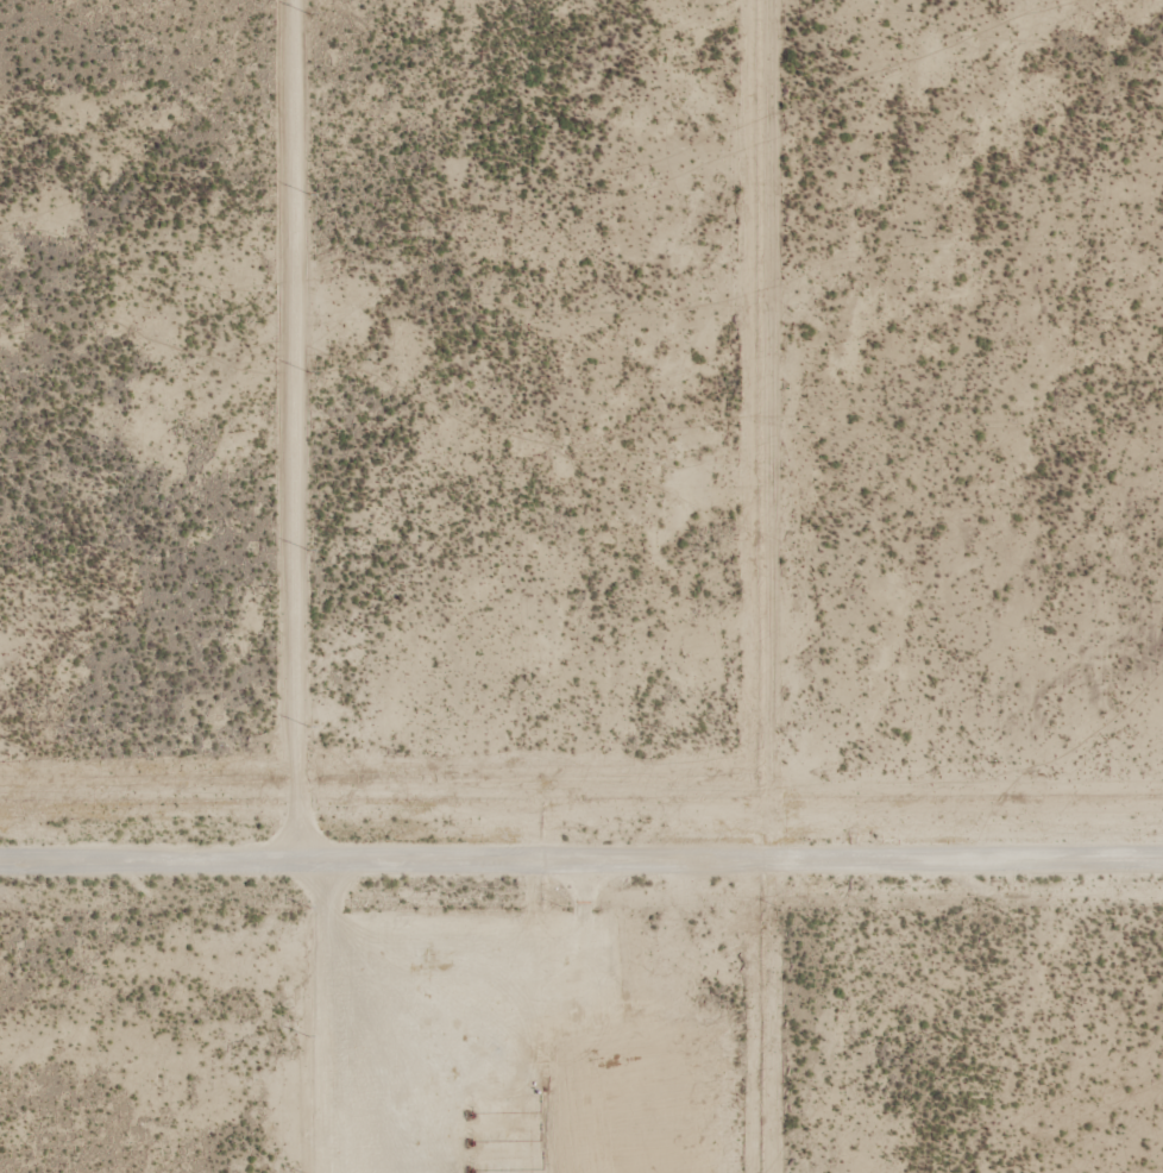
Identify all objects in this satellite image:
road: (581, 860)

